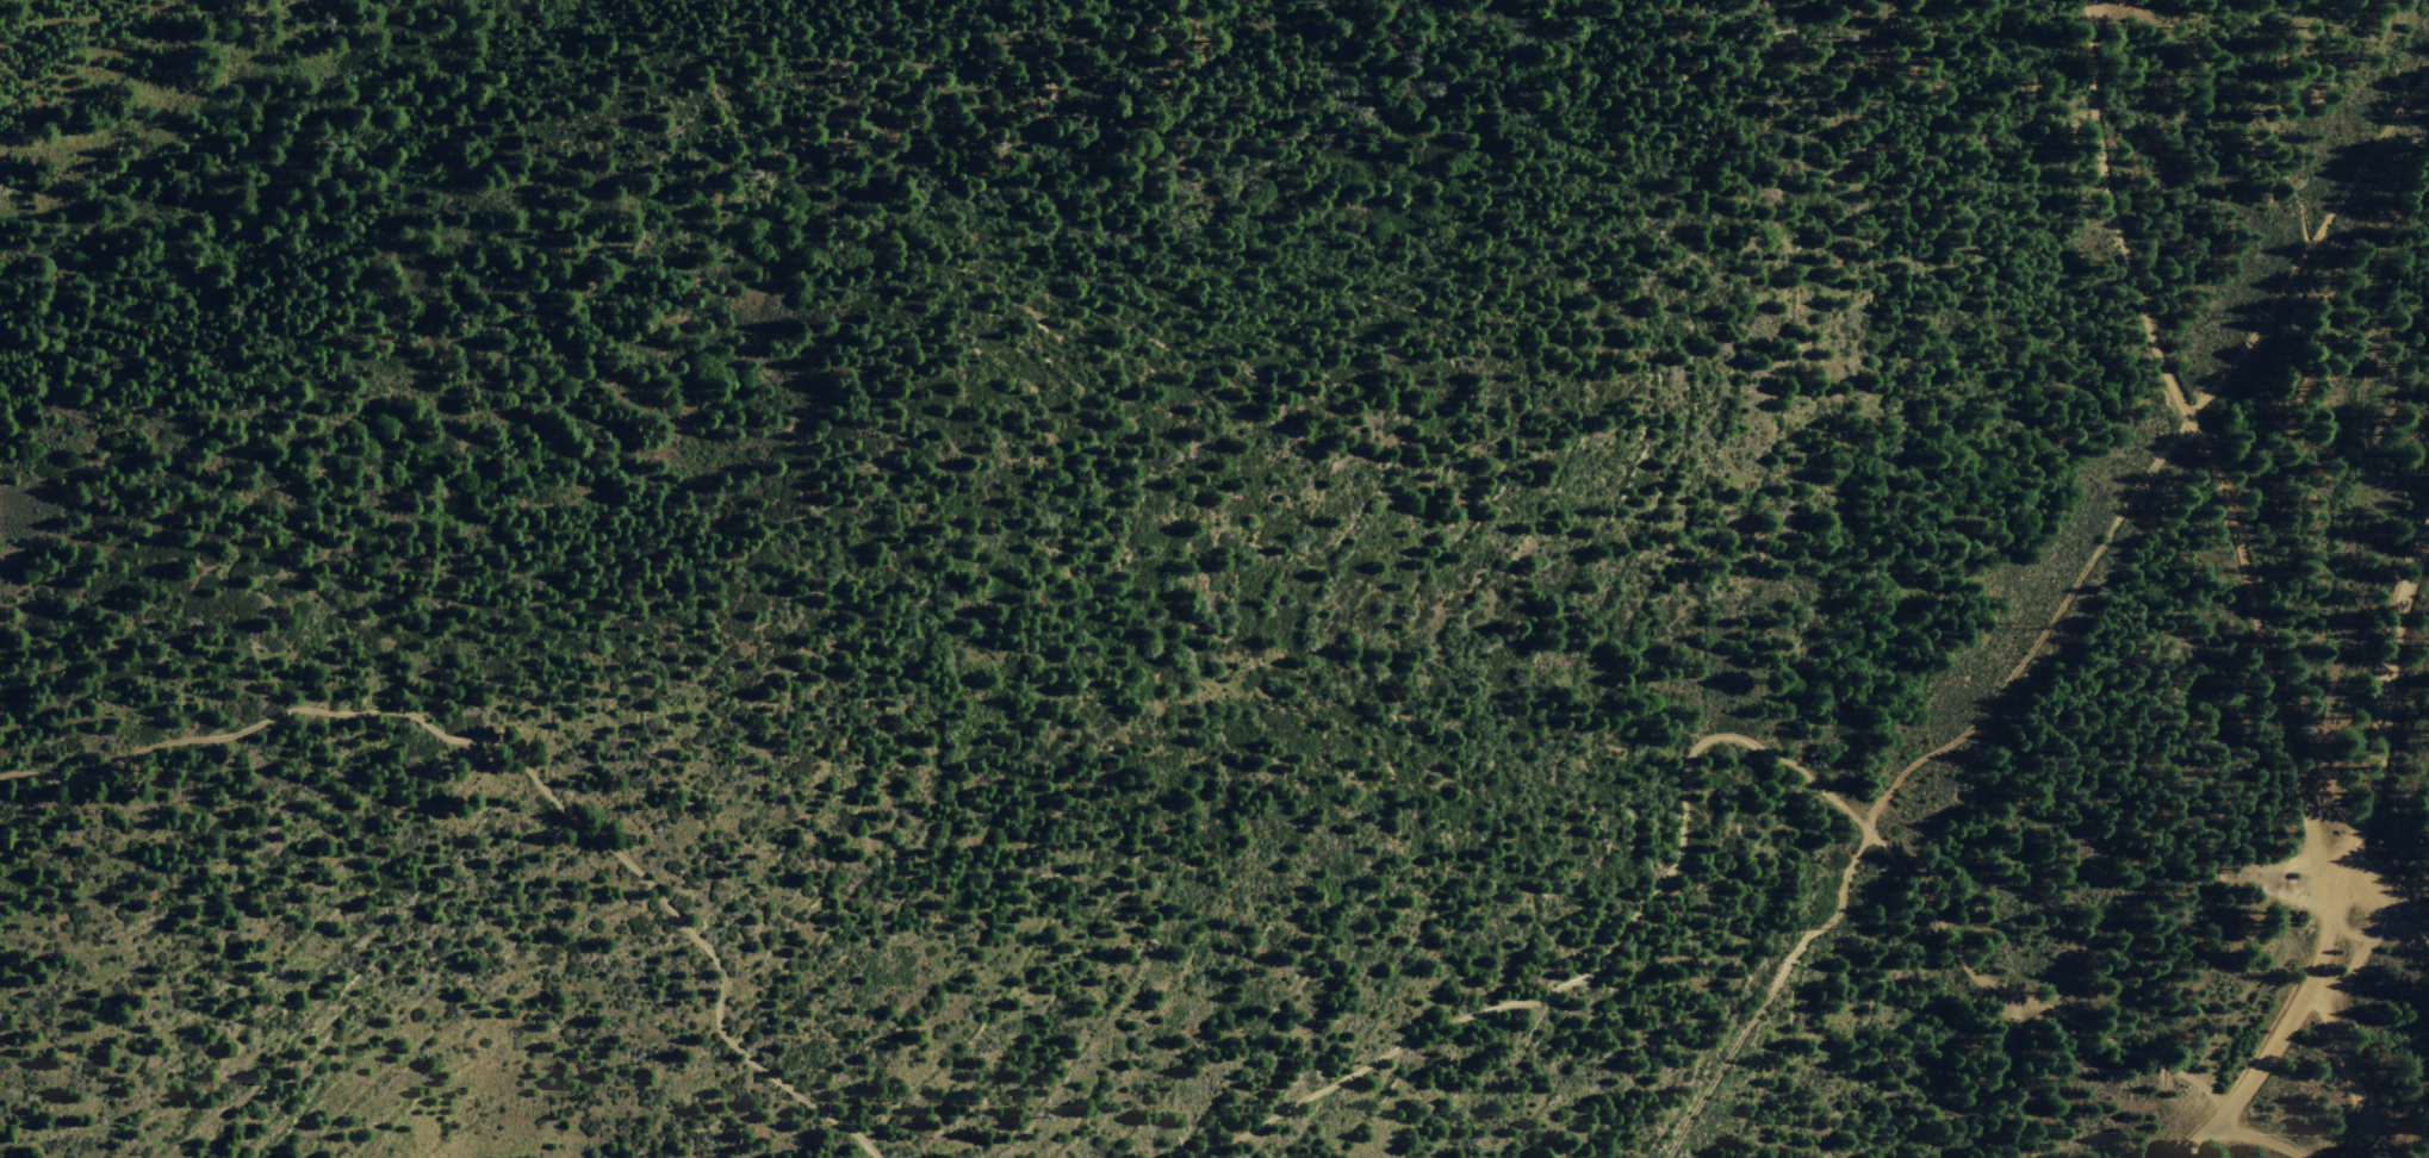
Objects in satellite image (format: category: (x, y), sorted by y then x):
road: (2309, 250)
power tower: (2249, 318)
road: (2205, 442)
power tower: (2030, 623)
road: (2036, 631)
road: (1689, 761)
road: (2349, 870)
road: (2367, 886)
power tower: (1820, 926)
road: (2406, 927)
road: (2348, 932)
road: (2356, 953)
road: (1757, 989)
road: (721, 1016)
road: (2346, 1067)
road: (2257, 1138)

